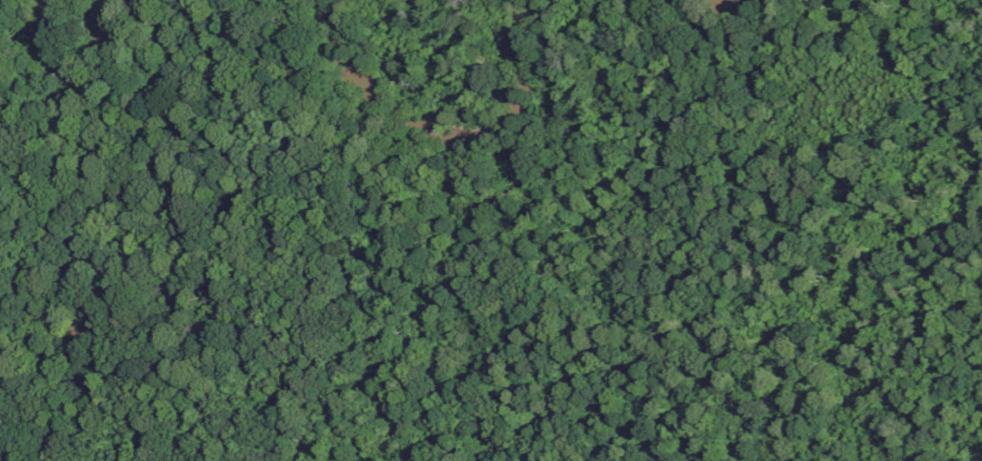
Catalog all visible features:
river: (711, 2)
river: (86, 76)
river: (443, 139)

